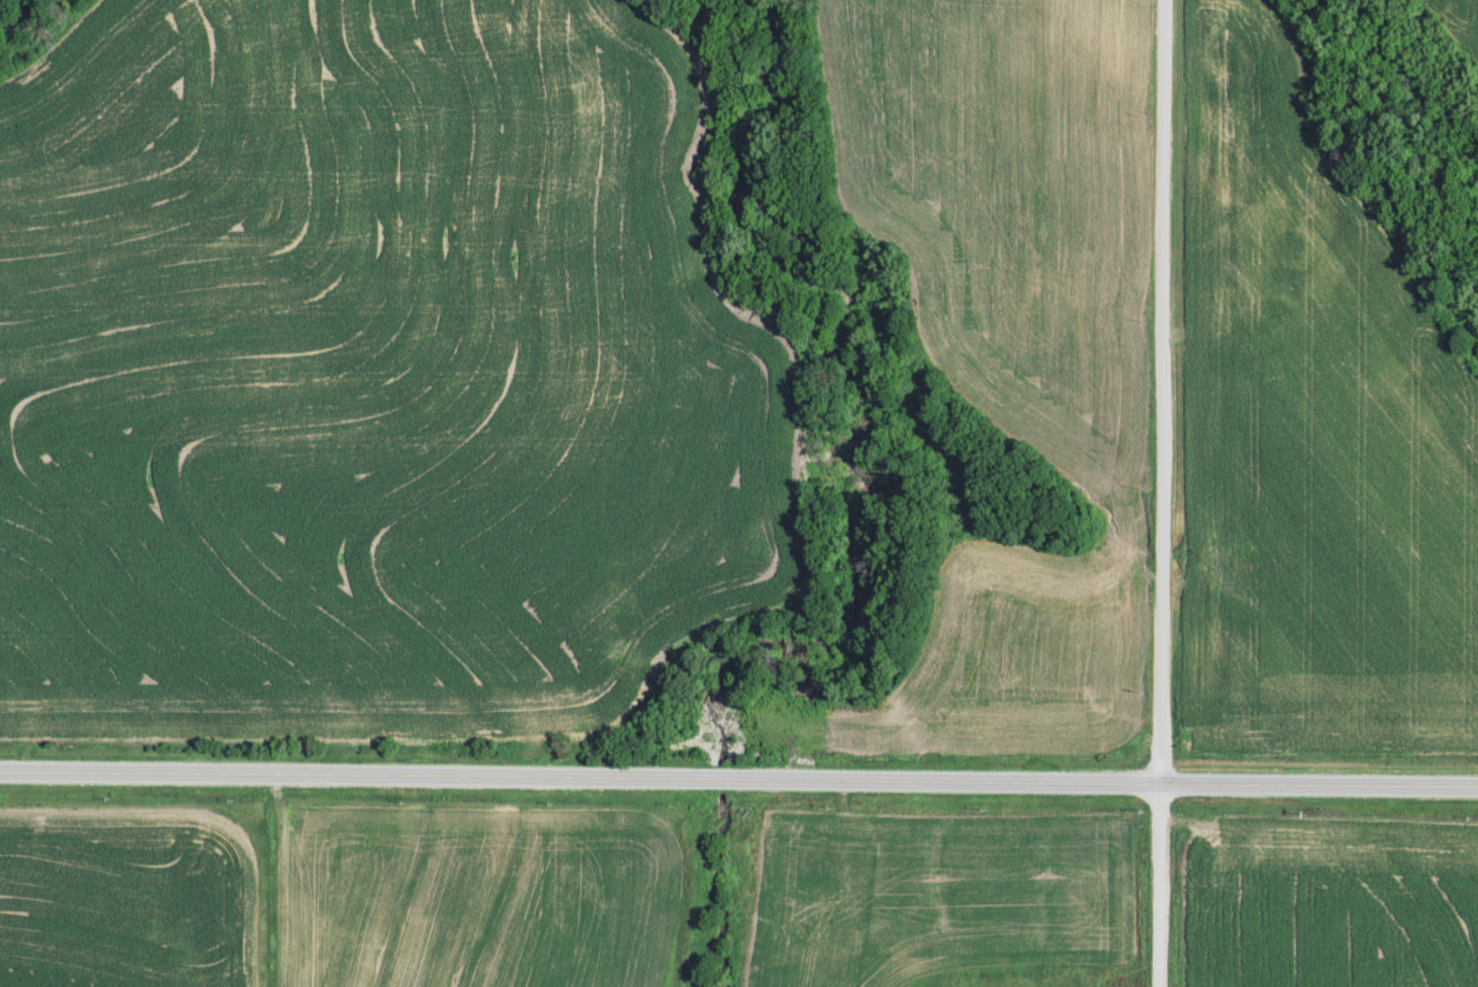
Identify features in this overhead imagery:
road: (1160, 493)
road: (738, 775)

